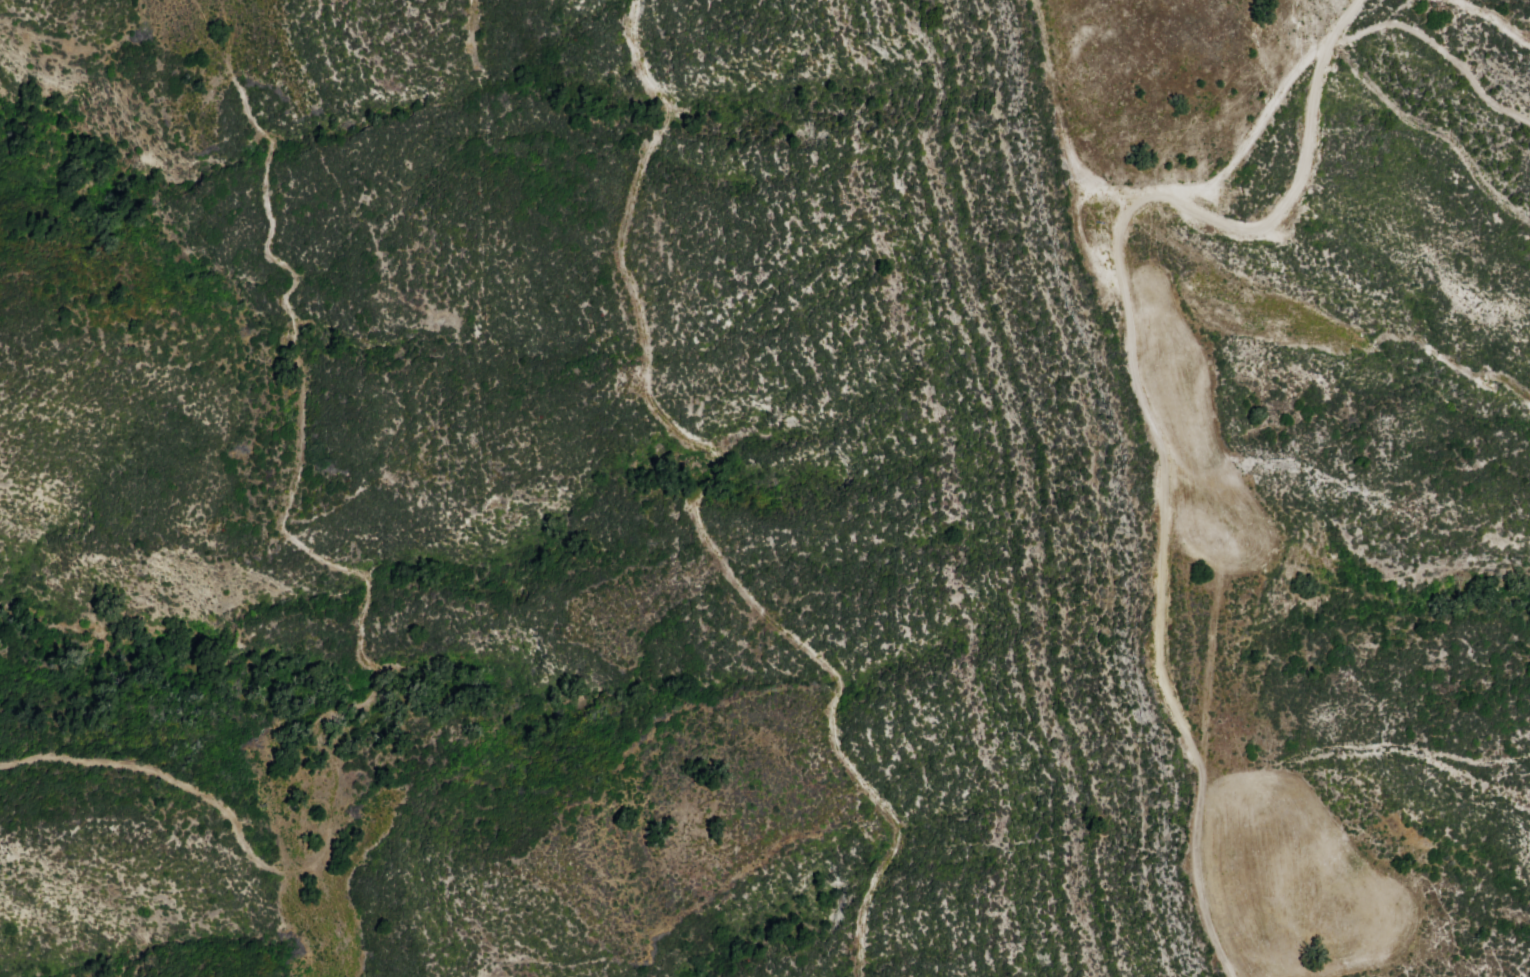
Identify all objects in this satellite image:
road: (1147, 427)

